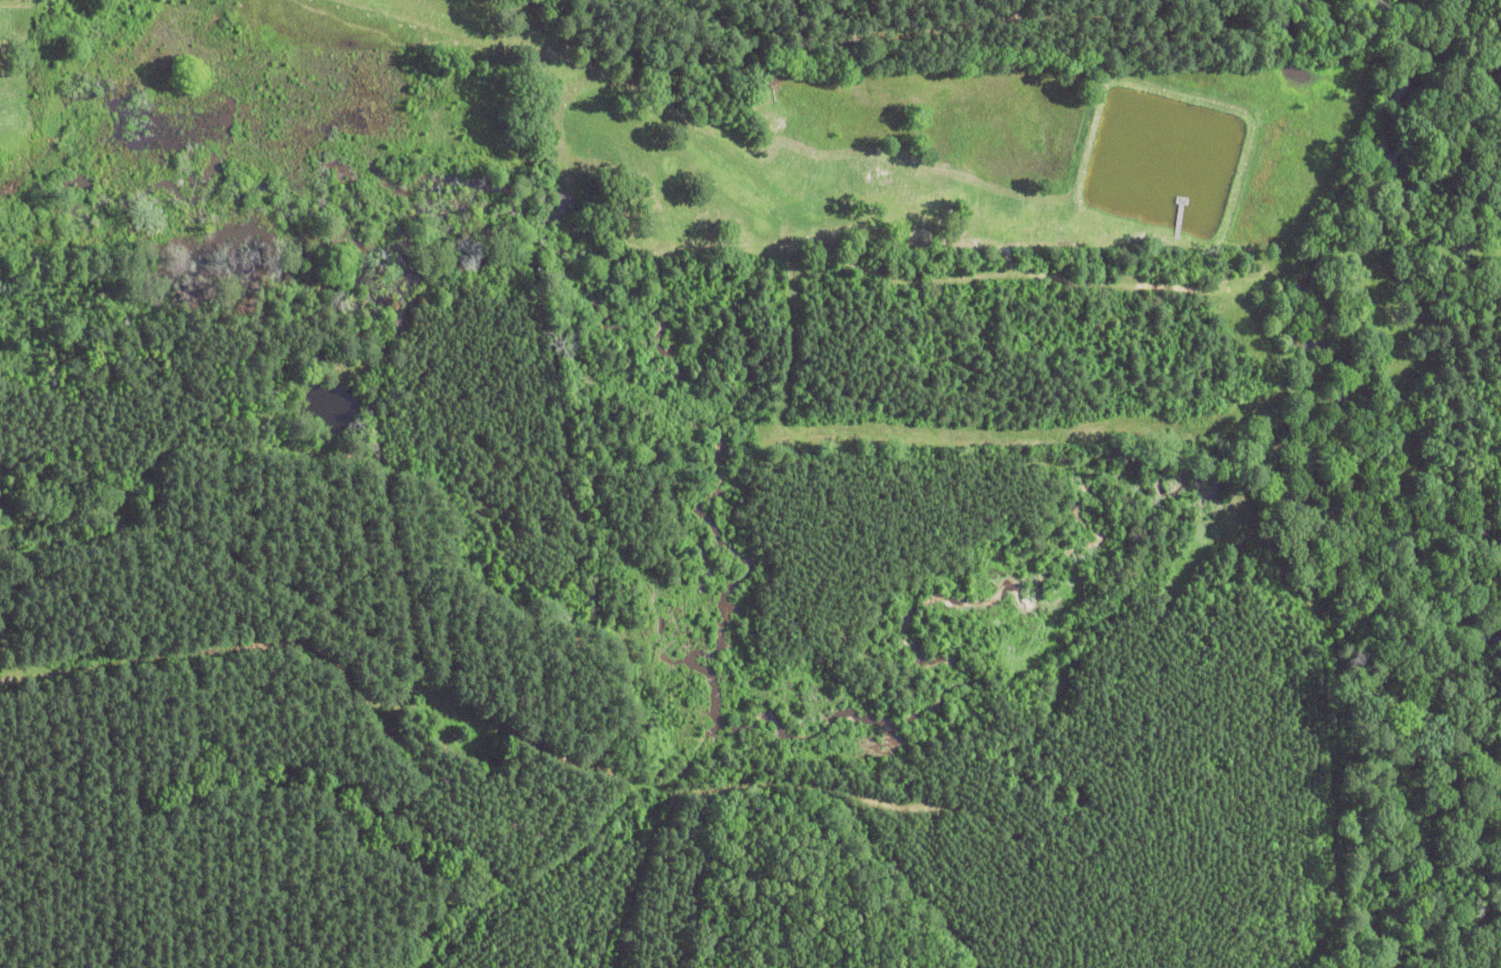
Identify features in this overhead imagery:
building: (1183, 200)

